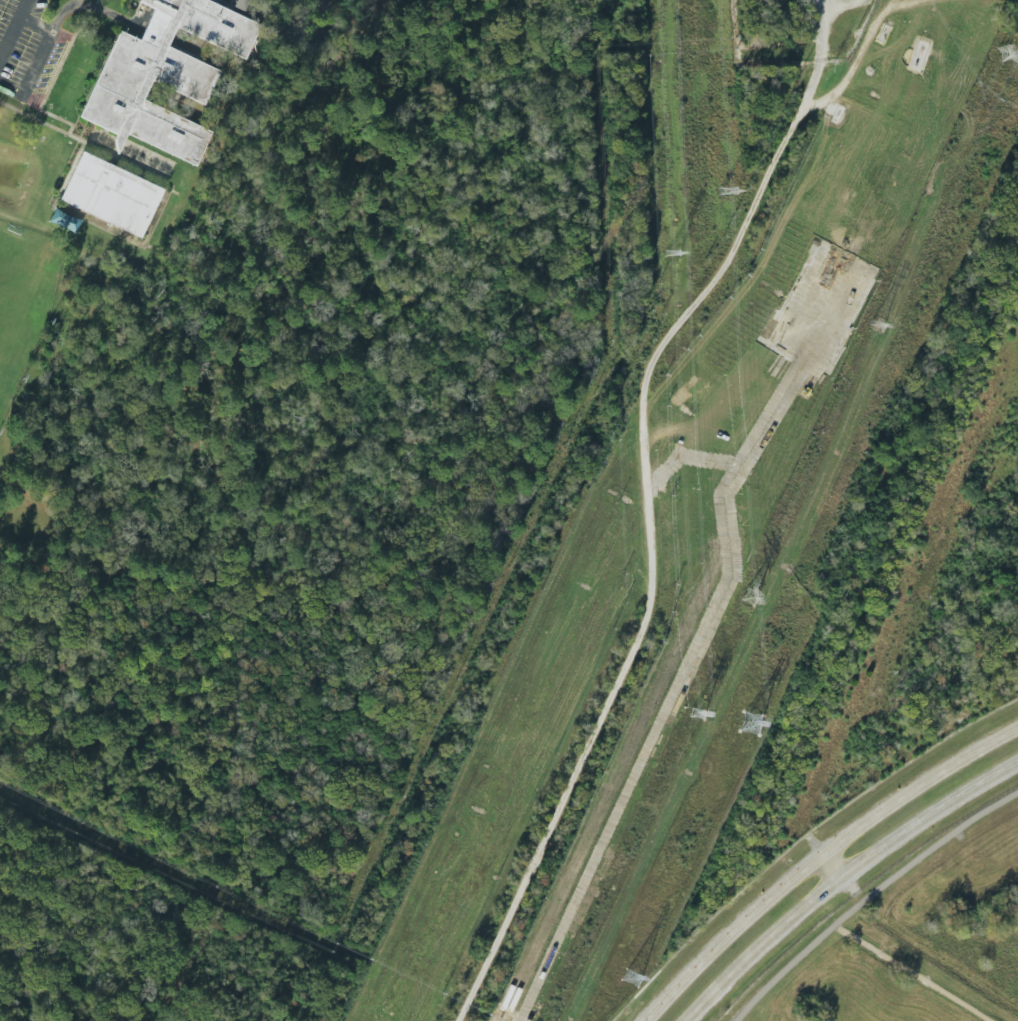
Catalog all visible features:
building: (243, 4)
road: (92, 7)
power substation: (796, 30)
road: (10, 40)
parking lot: (28, 50)
road: (44, 50)
power tower: (1011, 50)
road: (65, 52)
building: (164, 75)
road: (35, 117)
road: (60, 118)
road: (82, 140)
road: (68, 174)
power tower: (726, 191)
building: (111, 196)
power tower: (676, 238)
park: (18, 292)
power tower: (876, 326)
road: (645, 565)
power tower: (749, 598)
power tower: (701, 699)
power tower: (752, 722)
road: (799, 838)
road: (818, 857)
road: (830, 865)
road: (841, 875)
road: (868, 896)
road: (909, 973)
power tower: (631, 978)

